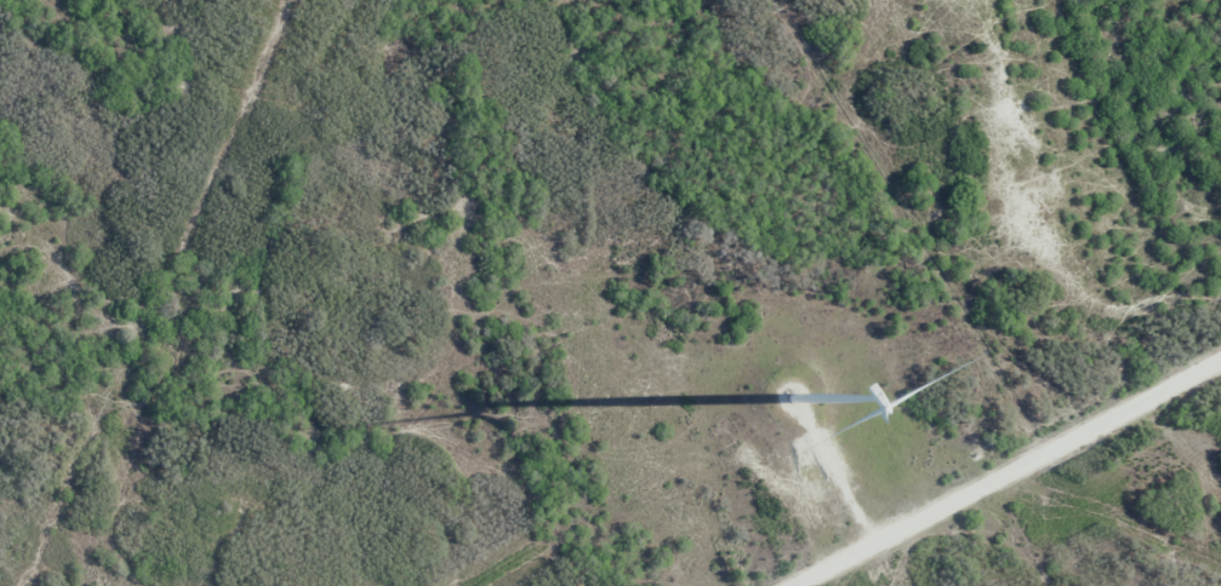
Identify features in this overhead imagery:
wind turbine: (791, 400)
road: (1004, 472)

